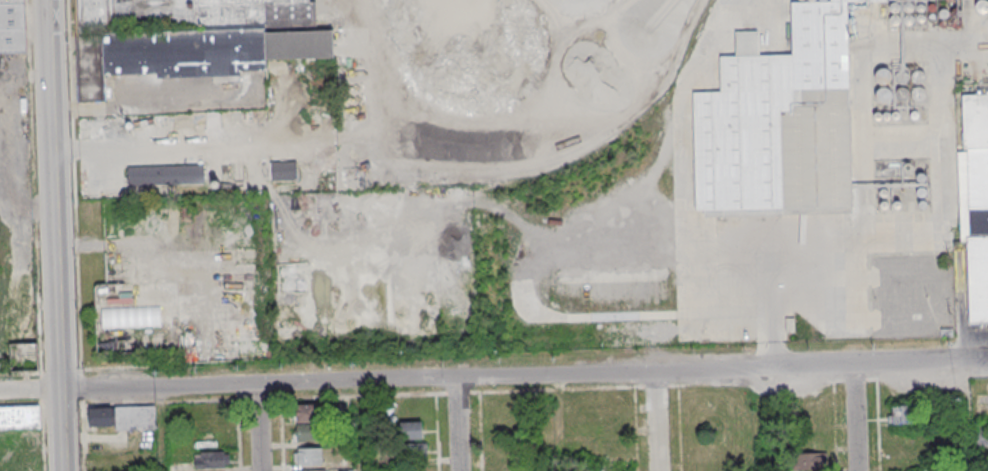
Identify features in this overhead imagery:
building: (12, 26)
building: (190, 38)
building: (779, 123)
building: (282, 171)
building: (166, 176)
road: (685, 197)
building: (975, 203)
road: (53, 235)
road: (876, 278)
road: (774, 354)
road: (494, 375)
building: (898, 414)
road: (967, 415)
building: (19, 417)
road: (856, 417)
building: (119, 418)
road: (759, 419)
road: (657, 420)
road: (560, 422)
building: (307, 423)
road: (456, 424)
road: (361, 426)
road: (258, 427)
road: (161, 429)
building: (410, 429)
building: (980, 434)
building: (413, 449)
building: (308, 456)
building: (210, 458)
building: (809, 460)
building: (408, 469)
building: (309, 470)

